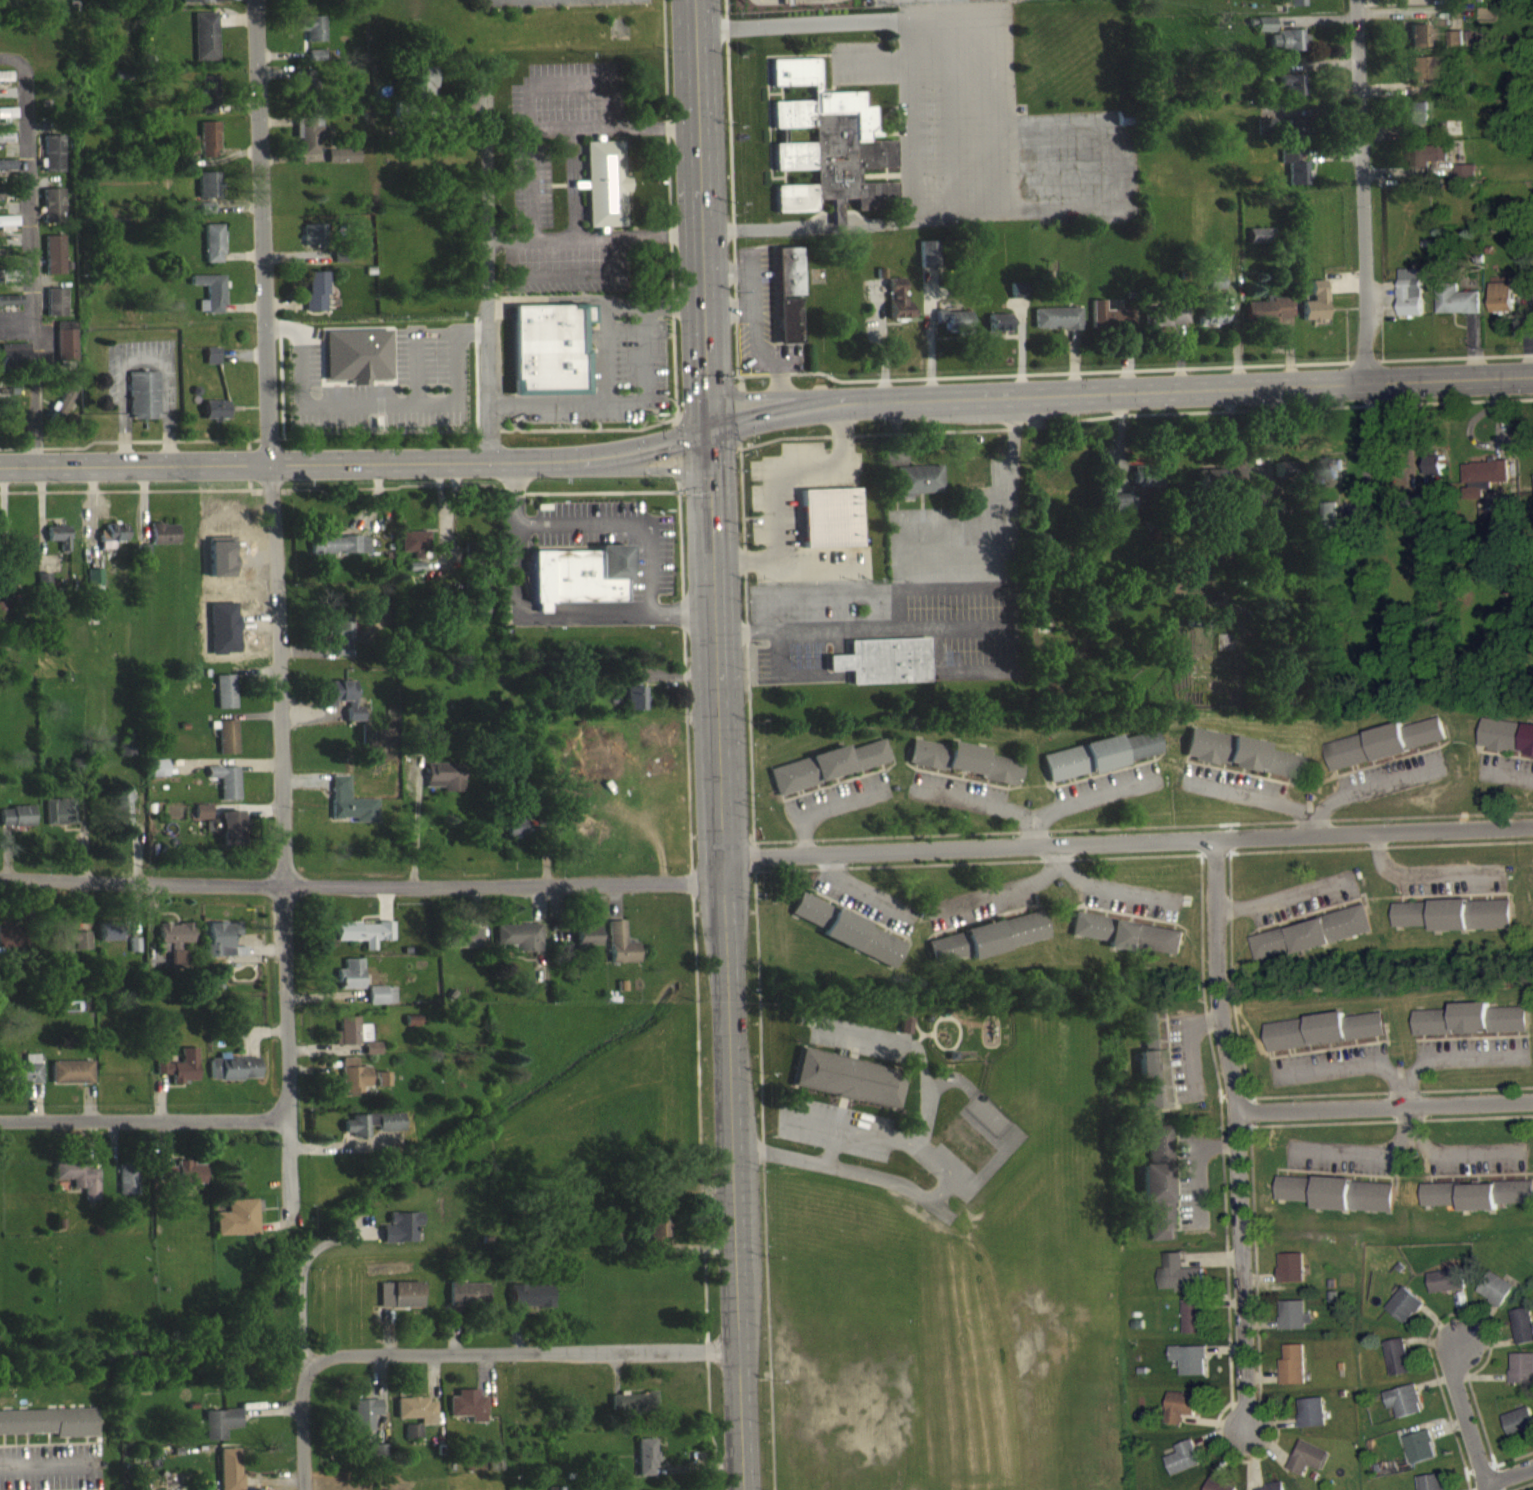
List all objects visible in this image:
building: (301, 1)
building: (198, 6)
road: (903, 7)
building: (1292, 7)
building: (1264, 33)
building: (312, 37)
building: (205, 45)
building: (1419, 45)
building: (1456, 47)
building: (1288, 49)
building: (315, 64)
building: (1424, 77)
building: (5, 85)
building: (423, 89)
building: (303, 92)
building: (1291, 93)
building: (206, 103)
road: (992, 111)
road: (906, 117)
building: (1419, 123)
building: (7, 127)
building: (1293, 139)
building: (5, 146)
building: (208, 148)
building: (311, 148)
building: (187, 154)
building: (834, 155)
building: (52, 163)
building: (1426, 164)
building: (343, 165)
building: (7, 173)
building: (1294, 176)
building: (1465, 181)
road: (1359, 190)
building: (207, 193)
building: (605, 193)
building: (793, 207)
building: (52, 214)
building: (204, 217)
building: (313, 244)
building: (1260, 245)
road: (35, 251)
building: (212, 252)
building: (53, 263)
building: (927, 263)
building: (1215, 291)
road: (486, 292)
building: (1525, 293)
road: (532, 298)
road: (593, 298)
building: (1016, 299)
building: (314, 300)
building: (1411, 301)
building: (209, 302)
building: (787, 305)
building: (1502, 306)
building: (10, 309)
building: (896, 309)
building: (1457, 309)
building: (55, 311)
building: (1314, 313)
building: (1269, 319)
building: (1172, 324)
building: (1211, 325)
building: (1056, 327)
building: (952, 329)
building: (997, 331)
building: (65, 351)
building: (547, 359)
building: (14, 364)
building: (356, 364)
building: (211, 365)
road: (605, 366)
road: (789, 393)
building: (143, 404)
road: (376, 404)
road: (765, 417)
building: (214, 419)
traffic signals: (708, 431)
road: (140, 439)
road: (248, 462)
road: (618, 469)
road: (775, 472)
building: (1437, 476)
building: (1328, 478)
building: (1056, 484)
building: (1485, 485)
building: (1145, 487)
building: (918, 488)
road: (148, 489)
building: (1121, 511)
building: (1329, 524)
building: (829, 527)
road: (989, 527)
road: (272, 541)
building: (163, 543)
building: (110, 544)
building: (58, 545)
building: (339, 553)
building: (417, 554)
road: (1009, 555)
building: (577, 584)
road: (953, 585)
building: (93, 586)
road: (541, 615)
building: (4, 618)
road: (939, 624)
building: (341, 643)
building: (882, 670)
road: (784, 671)
building: (224, 700)
building: (633, 703)
building: (342, 708)
road: (722, 744)
building: (1507, 745)
building: (226, 746)
building: (1384, 752)
building: (124, 757)
building: (1239, 763)
building: (926, 764)
building: (1099, 764)
building: (979, 773)
road: (1520, 773)
building: (826, 775)
building: (156, 777)
building: (443, 785)
building: (225, 790)
road: (1313, 810)
building: (121, 815)
building: (58, 821)
building: (201, 821)
road: (1313, 823)
building: (16, 825)
building: (517, 834)
building: (229, 838)
road: (1128, 842)
road: (1420, 873)
road: (364, 887)
road: (1285, 896)
building: (810, 919)
building: (1455, 924)
building: (108, 941)
building: (364, 941)
building: (1312, 943)
building: (6, 944)
building: (1126, 944)
building: (586, 945)
building: (464, 946)
building: (518, 946)
building: (219, 947)
building: (988, 947)
building: (862, 948)
building: (70, 950)
building: (175, 952)
building: (619, 953)
building: (350, 983)
building: (381, 1004)
building: (1471, 1029)
building: (904, 1034)
building: (351, 1040)
building: (1325, 1040)
road: (1192, 1042)
building: (372, 1057)
road: (912, 1059)
building: (1151, 1071)
road: (1401, 1075)
building: (178, 1076)
building: (852, 1077)
building: (232, 1078)
building: (25, 1080)
building: (70, 1081)
building: (353, 1085)
road: (1388, 1106)
road: (165, 1121)
road: (810, 1131)
building: (372, 1132)
road: (1244, 1132)
road: (1353, 1149)
road: (1429, 1149)
building: (1157, 1153)
road: (911, 1154)
road: (830, 1156)
road: (1190, 1156)
road: (293, 1171)
road: (833, 1178)
building: (179, 1182)
building: (77, 1186)
building: (126, 1188)
building: (1337, 1203)
building: (1494, 1204)
building: (1157, 1208)
building: (237, 1227)
building: (399, 1236)
building: (656, 1238)
building: (1290, 1277)
building: (1179, 1284)
building: (1447, 1290)
building: (1496, 1298)
road: (299, 1302)
building: (400, 1304)
building: (467, 1304)
building: (531, 1305)
building: (1404, 1315)
building: (1294, 1324)
building: (1193, 1326)
building: (1523, 1334)
road: (514, 1364)
building: (1397, 1367)
building: (1189, 1369)
building: (1292, 1374)
building: (1521, 1378)
building: (1403, 1411)
building: (632, 1412)
building: (468, 1414)
building: (1180, 1416)
building: (416, 1419)
building: (365, 1422)
building: (1312, 1422)
road: (1467, 1422)
building: (48, 1431)
building: (1519, 1431)
building: (220, 1432)
building: (412, 1440)
road: (300, 1442)
building: (1420, 1456)
road: (51, 1462)
building: (379, 1463)
building: (645, 1466)
building: (1307, 1467)
building: (1182, 1468)
road: (1508, 1472)
building: (229, 1473)
building: (1431, 1487)
building: (1213, 1488)

